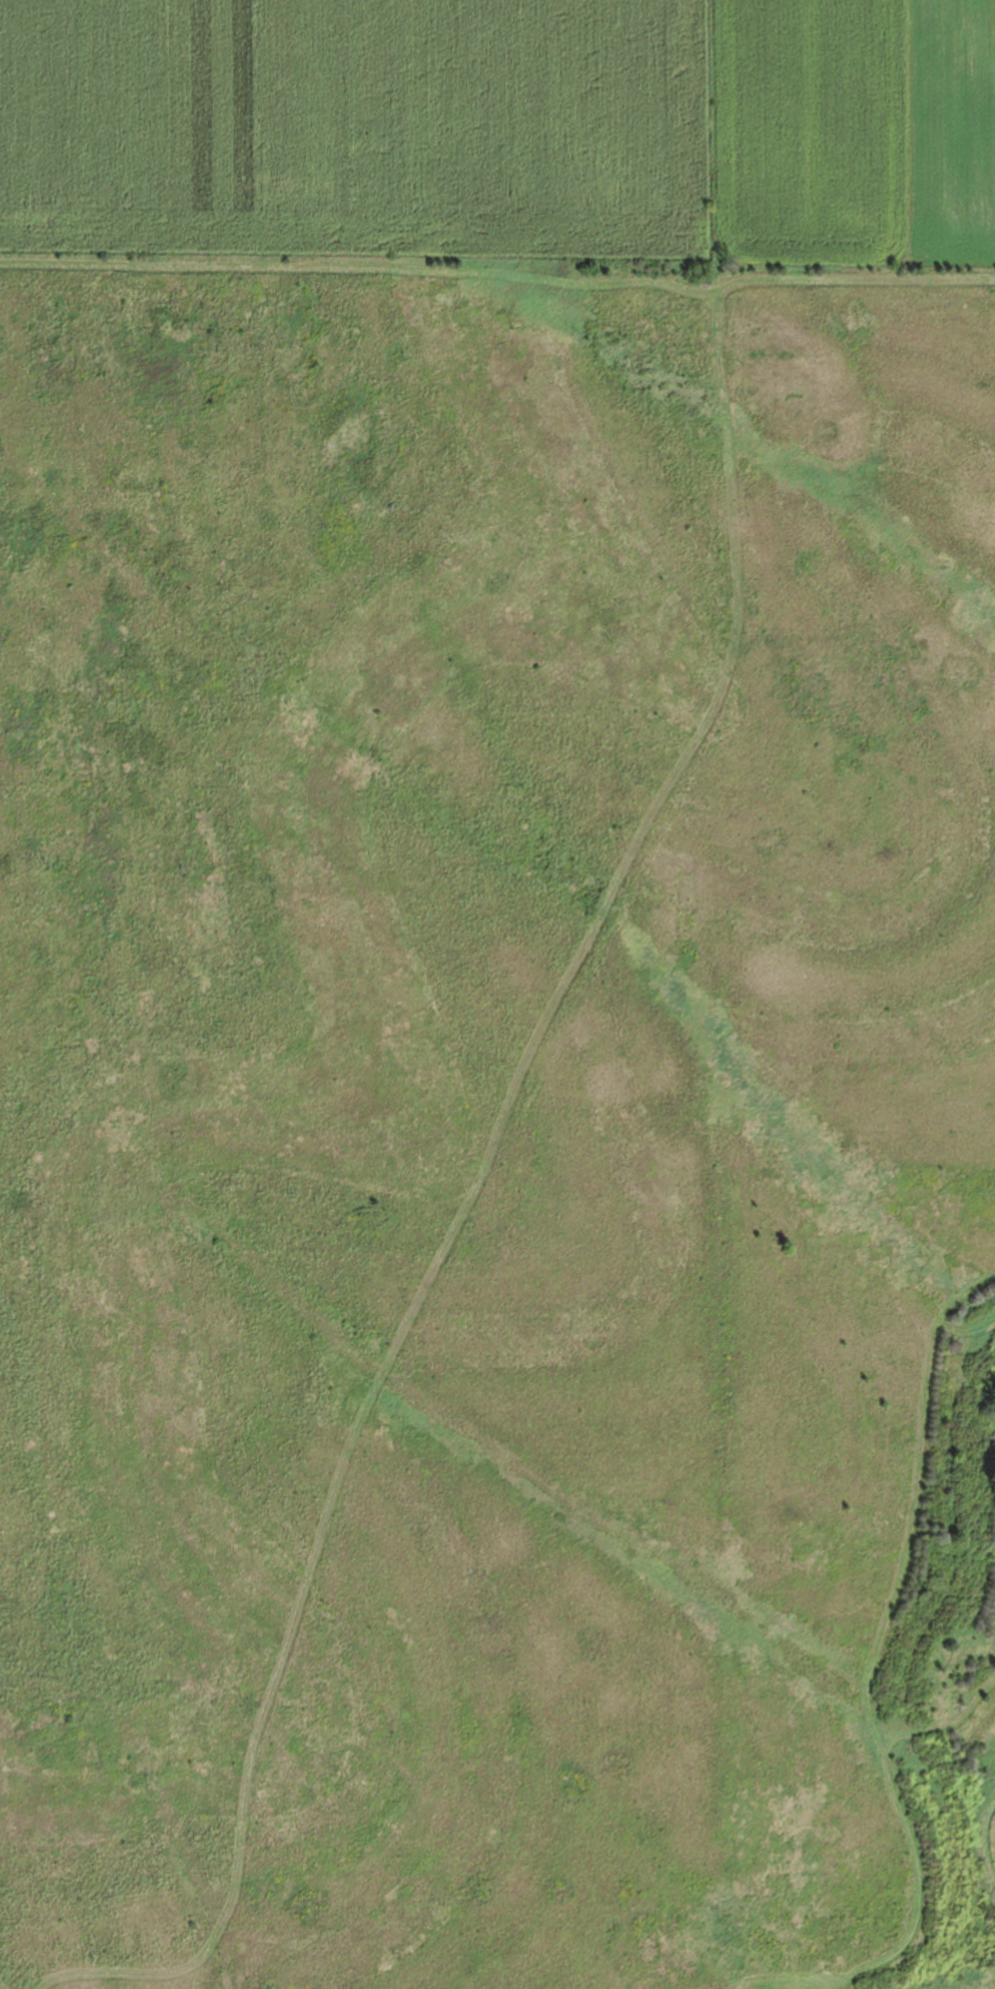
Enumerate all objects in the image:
road: (787, 1986)

